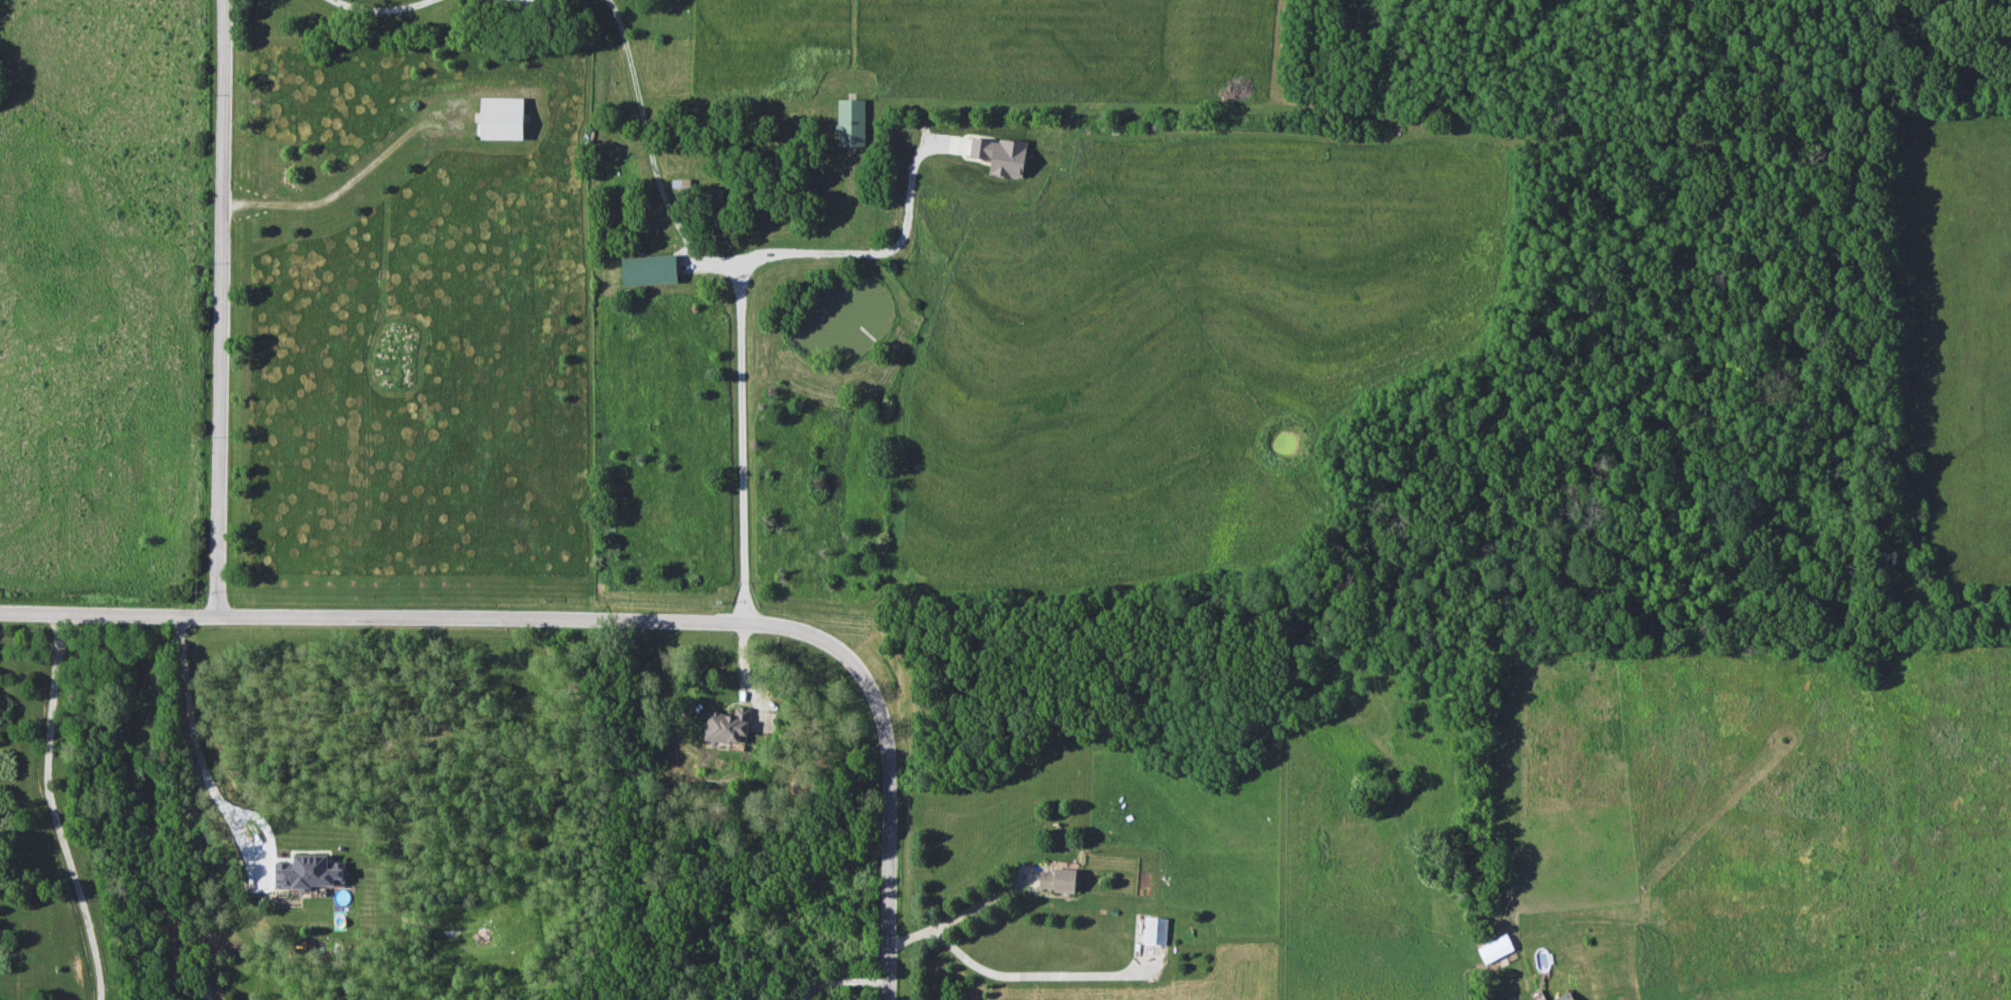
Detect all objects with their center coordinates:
road: (381, 10)
building: (501, 118)
building: (850, 122)
building: (1000, 155)
road: (347, 181)
building: (680, 183)
road: (869, 256)
building: (648, 269)
road: (740, 291)
park: (112, 305)
road: (225, 307)
road: (373, 617)
building: (727, 727)
road: (194, 747)
road: (892, 767)
road: (50, 809)
building: (309, 872)
building: (1057, 879)
road: (953, 916)
building: (1155, 930)
building: (1494, 948)
road: (844, 982)
building: (1564, 997)

